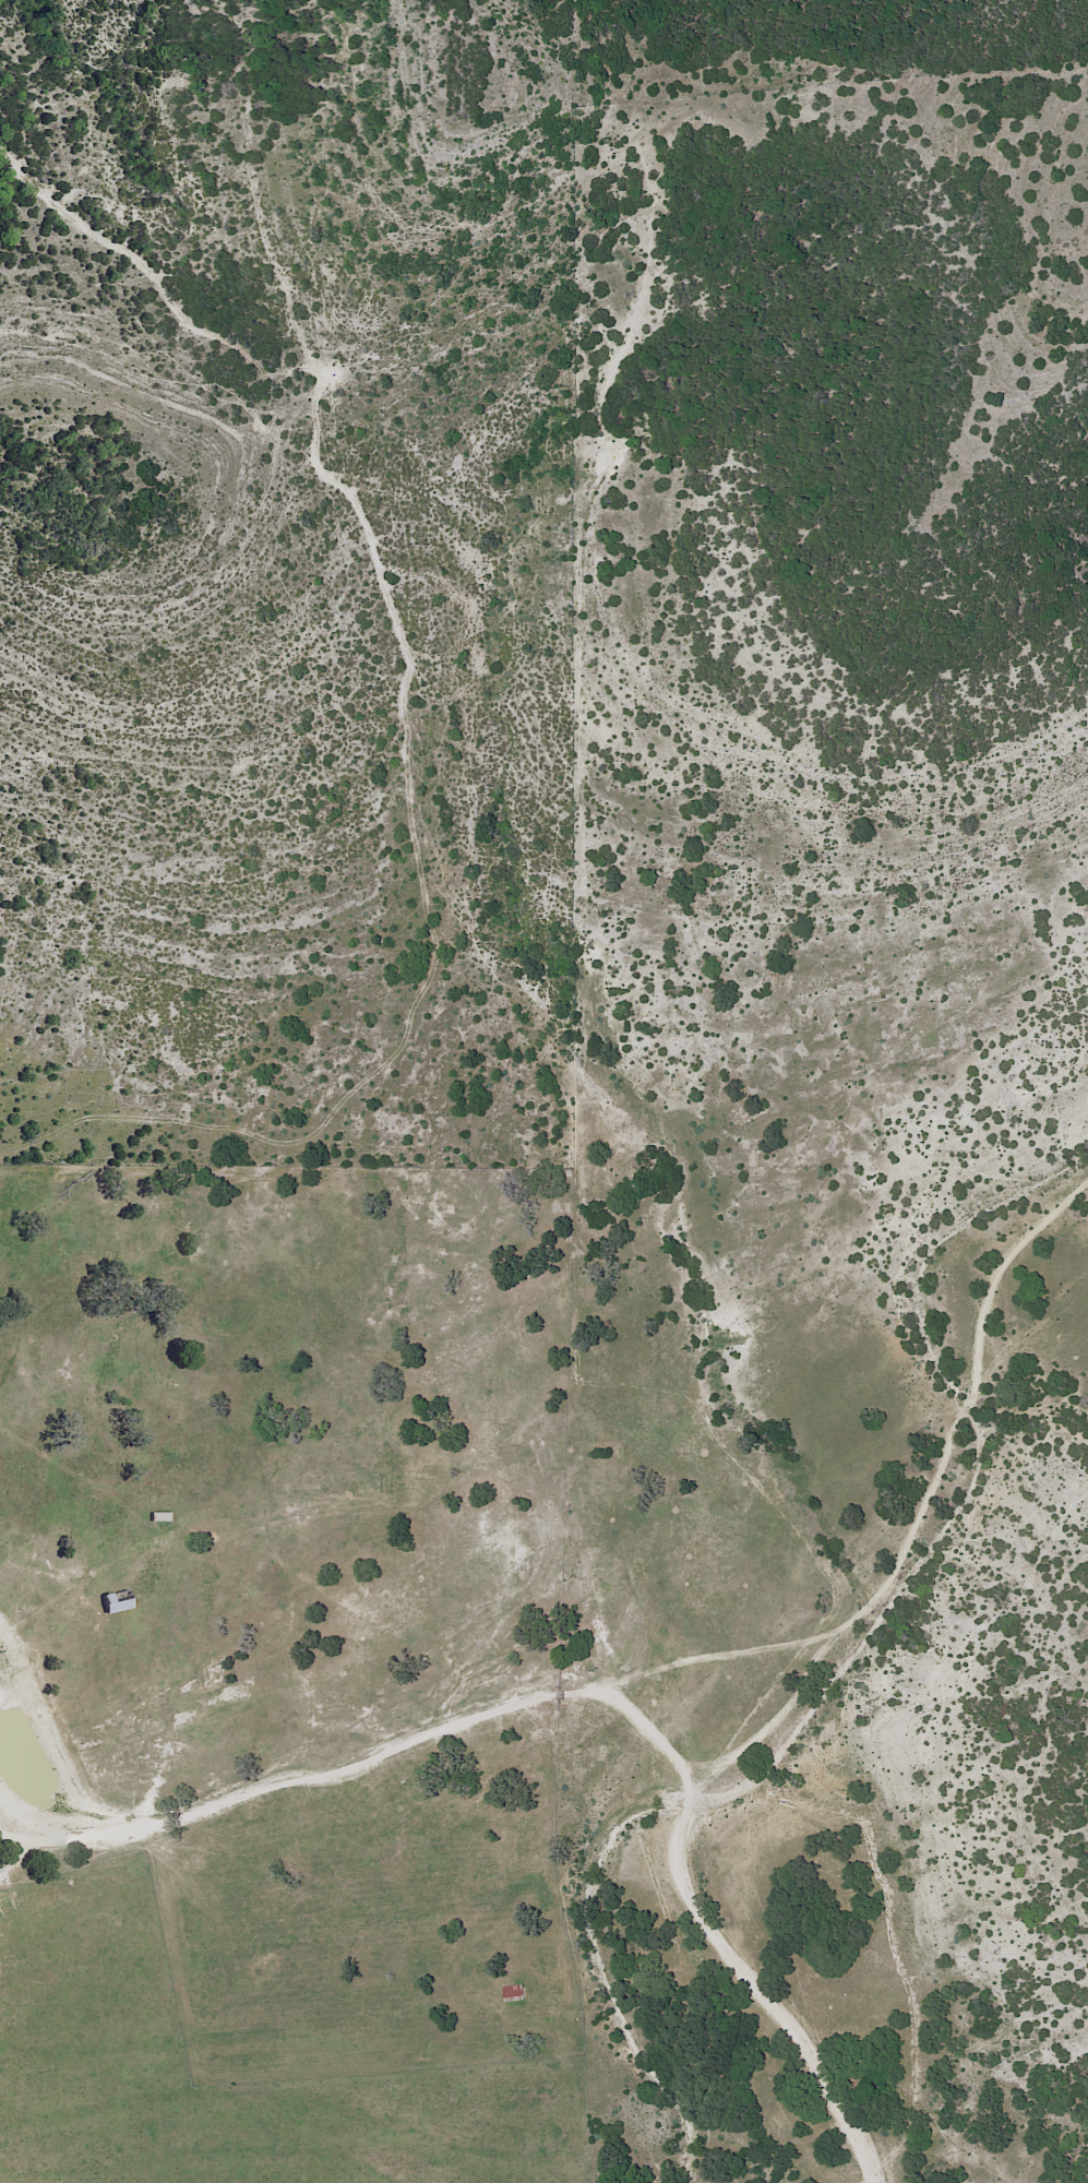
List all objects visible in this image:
road: (920, 1508)
building: (113, 1602)
road: (576, 1692)

